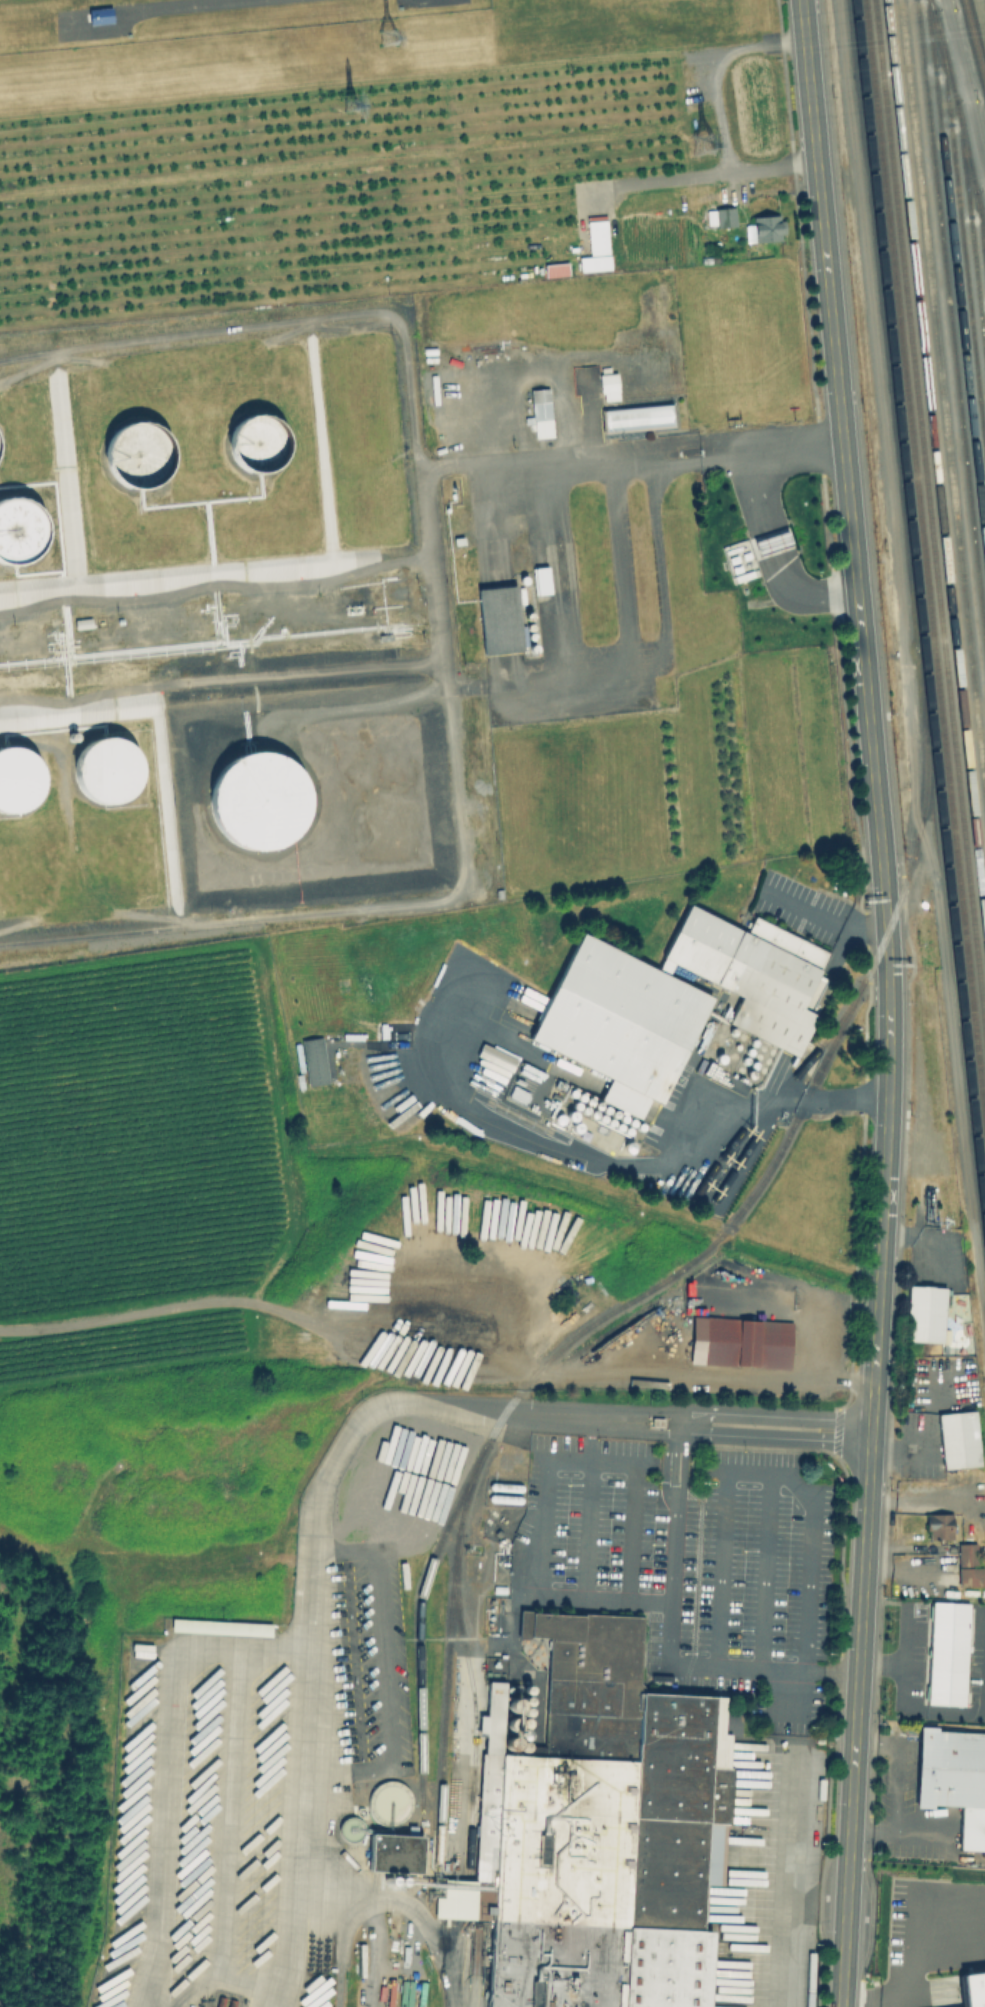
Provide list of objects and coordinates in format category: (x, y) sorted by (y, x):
road: (225, 8)
building: (98, 15)
road: (912, 27)
road: (896, 28)
railway: (975, 39)
power tower: (399, 42)
road: (715, 68)
road: (966, 83)
power tower: (363, 106)
power tower: (697, 155)
railway: (970, 162)
road: (705, 172)
railway: (965, 181)
building: (709, 217)
building: (724, 217)
railway: (981, 219)
building: (764, 228)
railway: (961, 233)
building: (595, 245)
building: (555, 269)
railway: (955, 274)
railway: (950, 320)
building: (608, 386)
railway: (942, 396)
building: (540, 412)
building: (636, 417)
building: (262, 448)
road: (792, 448)
building: (145, 457)
railway: (935, 462)
road: (754, 490)
road: (423, 510)
railway: (930, 517)
building: (23, 533)
road: (770, 542)
building: (771, 542)
building: (739, 560)
railway: (924, 566)
road: (659, 567)
building: (540, 580)
road: (801, 599)
building: (498, 619)
railway: (918, 619)
road: (604, 671)
building: (114, 774)
building: (21, 785)
building: (267, 800)
road: (806, 906)
road: (867, 922)
road: (840, 949)
road: (888, 1002)
building: (677, 1003)
building: (313, 1060)
railway: (786, 1090)
road: (664, 1160)
railway: (696, 1256)
building: (923, 1313)
road: (824, 1316)
building: (747, 1343)
road: (600, 1376)
road: (773, 1417)
road: (771, 1439)
building: (957, 1439)
road: (759, 1479)
building: (937, 1525)
road: (540, 1530)
road: (586, 1531)
road: (632, 1534)
road: (310, 1547)
building: (967, 1565)
road: (763, 1574)
road: (667, 1639)
railway: (448, 1651)
building: (945, 1653)
road: (382, 1671)
railway: (474, 1703)
road: (173, 1773)
building: (955, 1782)
building: (602, 1833)
building: (393, 1852)
road: (404, 1908)
building: (973, 1989)
road: (868, 2001)

